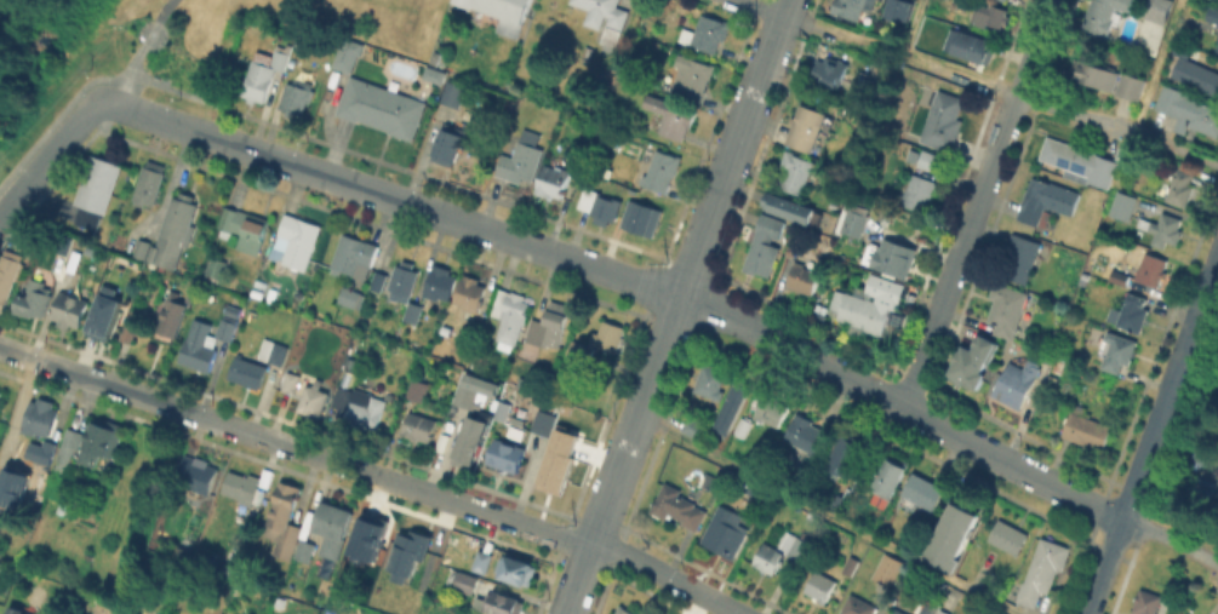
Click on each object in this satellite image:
building: (1003, 0)
building: (462, 2)
building: (854, 7)
road: (755, 8)
building: (896, 10)
building: (1159, 10)
building: (504, 13)
building: (1212, 13)
building: (990, 15)
building: (1105, 16)
building: (538, 17)
building: (605, 17)
road: (144, 18)
road: (910, 28)
building: (707, 34)
building: (1216, 45)
building: (974, 47)
park: (150, 48)
road: (138, 50)
building: (349, 54)
road: (898, 56)
road: (1153, 67)
building: (1191, 67)
building: (830, 73)
building: (1096, 74)
building: (436, 75)
building: (267, 76)
building: (692, 78)
building: (865, 85)
building: (1132, 86)
building: (454, 93)
building: (297, 97)
road: (108, 99)
building: (383, 108)
building: (1188, 111)
building: (673, 117)
building: (944, 121)
building: (811, 127)
road: (1117, 130)
building: (451, 145)
road: (47, 154)
building: (1121, 154)
building: (921, 157)
building: (521, 160)
building: (1079, 162)
building: (663, 171)
building: (1142, 171)
building: (796, 173)
building: (554, 182)
building: (151, 183)
building: (1182, 184)
building: (98, 189)
building: (916, 191)
building: (1047, 201)
building: (595, 203)
building: (789, 205)
road: (977, 205)
building: (1123, 206)
building: (639, 217)
building: (854, 223)
building: (245, 228)
building: (1162, 229)
building: (176, 230)
building: (298, 241)
building: (138, 247)
building: (765, 247)
building: (354, 254)
building: (891, 257)
building: (69, 259)
building: (1024, 259)
building: (217, 268)
building: (1140, 272)
building: (8, 275)
building: (804, 279)
road: (631, 280)
building: (379, 281)
building: (405, 281)
building: (441, 283)
building: (470, 294)
building: (35, 298)
building: (350, 298)
road: (676, 306)
building: (70, 310)
building: (860, 311)
building: (1008, 311)
building: (102, 312)
building: (413, 312)
building: (1132, 312)
building: (557, 315)
building: (510, 316)
building: (171, 319)
building: (888, 325)
building: (124, 332)
building: (544, 334)
building: (608, 337)
building: (206, 343)
building: (581, 351)
building: (1116, 351)
building: (275, 352)
building: (973, 363)
building: (248, 372)
building: (711, 380)
building: (291, 383)
building: (1018, 383)
building: (418, 390)
building: (1, 394)
building: (468, 395)
building: (314, 400)
building: (733, 406)
building: (361, 408)
building: (502, 409)
building: (772, 413)
building: (40, 418)
building: (544, 423)
building: (743, 426)
building: (419, 427)
building: (694, 427)
building: (519, 429)
building: (1088, 429)
road: (1151, 432)
building: (806, 435)
building: (471, 441)
building: (101, 443)
building: (68, 446)
building: (38, 449)
park: (1196, 449)
road: (708, 453)
building: (508, 455)
building: (1203, 455)
building: (845, 457)
building: (557, 469)
building: (892, 471)
road: (372, 472)
building: (198, 477)
building: (11, 484)
building: (1203, 486)
building: (245, 488)
building: (759, 489)
building: (922, 493)
building: (679, 507)
building: (279, 521)
building: (328, 527)
building: (727, 532)
building: (1008, 536)
building: (365, 538)
building: (953, 538)
road: (1170, 540)
building: (302, 550)
building: (784, 551)
road: (898, 552)
building: (408, 556)
building: (484, 562)
building: (850, 568)
building: (519, 570)
building: (887, 570)
building: (1045, 570)
building: (463, 580)
building: (822, 587)
building: (501, 603)
building: (1148, 603)
building: (857, 606)
building: (926, 606)
building: (107, 608)
building: (17, 610)
building: (624, 610)
building: (897, 612)
building: (937, 612)
building: (943, 613)
building: (1000, 613)

